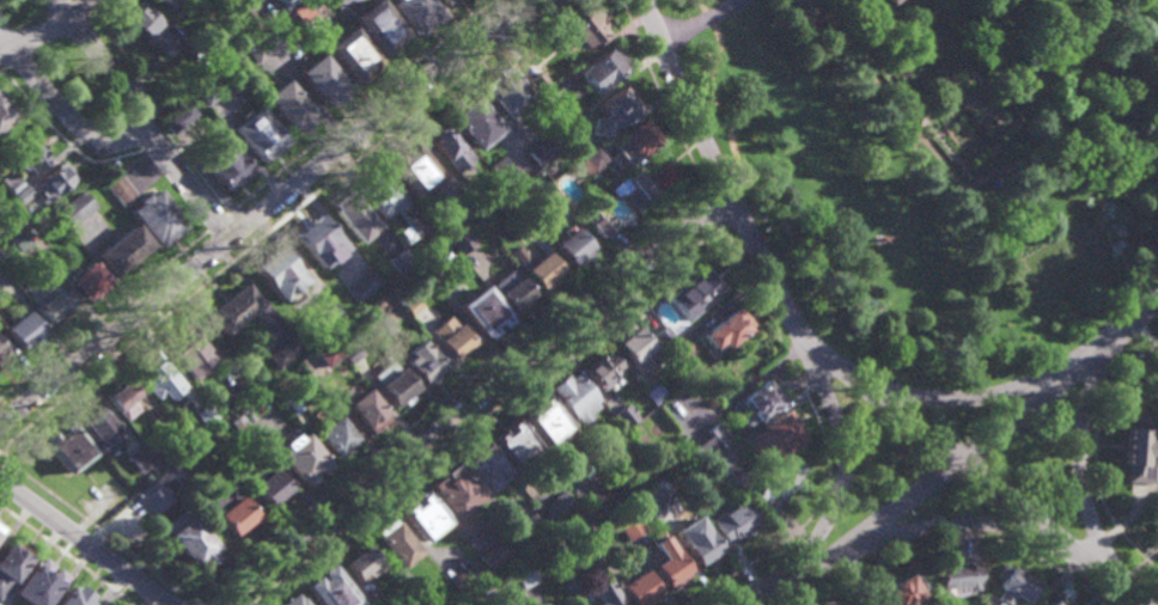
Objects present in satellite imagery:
building: (895, 0)
building: (444, 1)
building: (286, 2)
building: (167, 4)
building: (306, 7)
road: (106, 11)
building: (268, 11)
building: (413, 11)
road: (19, 12)
road: (89, 12)
building: (208, 12)
road: (925, 18)
building: (142, 19)
road: (699, 20)
road: (1, 24)
road: (98, 24)
building: (380, 25)
road: (892, 25)
building: (585, 26)
road: (48, 29)
road: (81, 31)
road: (1125, 39)
building: (264, 43)
road: (652, 45)
road: (50, 49)
building: (213, 51)
building: (354, 51)
road: (122, 53)
road: (19, 62)
building: (601, 66)
road: (4, 68)
road: (114, 71)
building: (324, 78)
building: (537, 80)
road: (140, 81)
building: (502, 87)
building: (215, 88)
building: (547, 93)
road: (663, 93)
road: (953, 99)
building: (617, 100)
road: (953, 100)
building: (292, 102)
road: (358, 108)
building: (4, 110)
road: (65, 112)
building: (179, 117)
building: (471, 120)
building: (596, 123)
building: (569, 128)
road: (136, 132)
building: (260, 132)
building: (638, 135)
road: (61, 137)
road: (151, 140)
building: (544, 146)
building: (450, 147)
road: (993, 149)
building: (29, 155)
building: (592, 159)
building: (224, 160)
building: (413, 166)
park: (941, 166)
building: (505, 171)
road: (193, 173)
building: (51, 178)
building: (10, 181)
building: (635, 185)
road: (962, 185)
building: (118, 188)
road: (191, 191)
road: (702, 191)
building: (22, 192)
building: (384, 192)
building: (476, 201)
building: (556, 202)
building: (74, 207)
road: (712, 209)
road: (262, 210)
building: (153, 214)
building: (355, 214)
road: (228, 219)
building: (5, 222)
building: (601, 222)
road: (214, 224)
building: (524, 224)
road: (278, 225)
building: (29, 228)
road: (720, 228)
road: (237, 230)
building: (0, 233)
building: (408, 233)
building: (16, 239)
building: (321, 239)
building: (462, 240)
road: (248, 242)
building: (572, 245)
building: (120, 247)
building: (402, 259)
building: (439, 263)
building: (537, 267)
building: (279, 271)
building: (85, 280)
building: (364, 285)
building: (512, 288)
building: (695, 292)
building: (44, 300)
building: (409, 301)
building: (231, 307)
building: (481, 310)
road: (103, 314)
building: (327, 318)
building: (18, 326)
building: (383, 326)
building: (724, 330)
building: (449, 336)
building: (663, 337)
building: (635, 348)
building: (678, 349)
building: (188, 350)
building: (351, 350)
building: (284, 352)
building: (1, 353)
building: (328, 353)
road: (828, 355)
building: (422, 360)
building: (602, 368)
building: (156, 374)
building: (397, 387)
building: (242, 390)
building: (656, 392)
road: (449, 395)
building: (575, 396)
road: (975, 396)
building: (121, 397)
building: (761, 398)
building: (291, 401)
road: (475, 402)
building: (256, 407)
building: (365, 408)
building: (205, 415)
building: (626, 415)
road: (482, 416)
building: (543, 420)
building: (238, 424)
building: (96, 426)
building: (167, 430)
building: (336, 435)
building: (774, 436)
road: (824, 440)
building: (112, 442)
building: (511, 444)
building: (712, 444)
building: (63, 446)
building: (152, 448)
building: (1140, 451)
road: (1096, 456)
building: (139, 457)
building: (301, 457)
road: (961, 462)
building: (161, 463)
road: (4, 464)
road: (846, 464)
road: (0, 467)
building: (480, 467)
road: (1083, 469)
building: (176, 475)
building: (731, 479)
building: (269, 485)
building: (776, 487)
building: (453, 493)
building: (658, 493)
building: (597, 496)
building: (632, 496)
building: (152, 497)
building: (553, 505)
building: (232, 509)
building: (1157, 509)
building: (425, 517)
building: (731, 521)
road: (952, 524)
building: (628, 525)
road: (96, 528)
building: (523, 528)
road: (957, 536)
building: (587, 537)
building: (191, 542)
road: (85, 543)
building: (396, 543)
building: (699, 548)
road: (1091, 549)
building: (492, 554)
road: (67, 555)
building: (554, 561)
building: (11, 562)
building: (361, 562)
road: (812, 562)
building: (665, 563)
building: (463, 576)
building: (522, 577)
building: (956, 577)
building: (37, 585)
building: (1010, 587)
building: (330, 589)
building: (634, 589)
building: (900, 591)
building: (420, 594)
building: (601, 594)
building: (74, 598)
building: (489, 599)
road: (195, 600)
building: (292, 601)
building: (859, 603)
building: (1053, 603)
building: (1063, 603)
building: (567, 604)
building: (865, 604)

